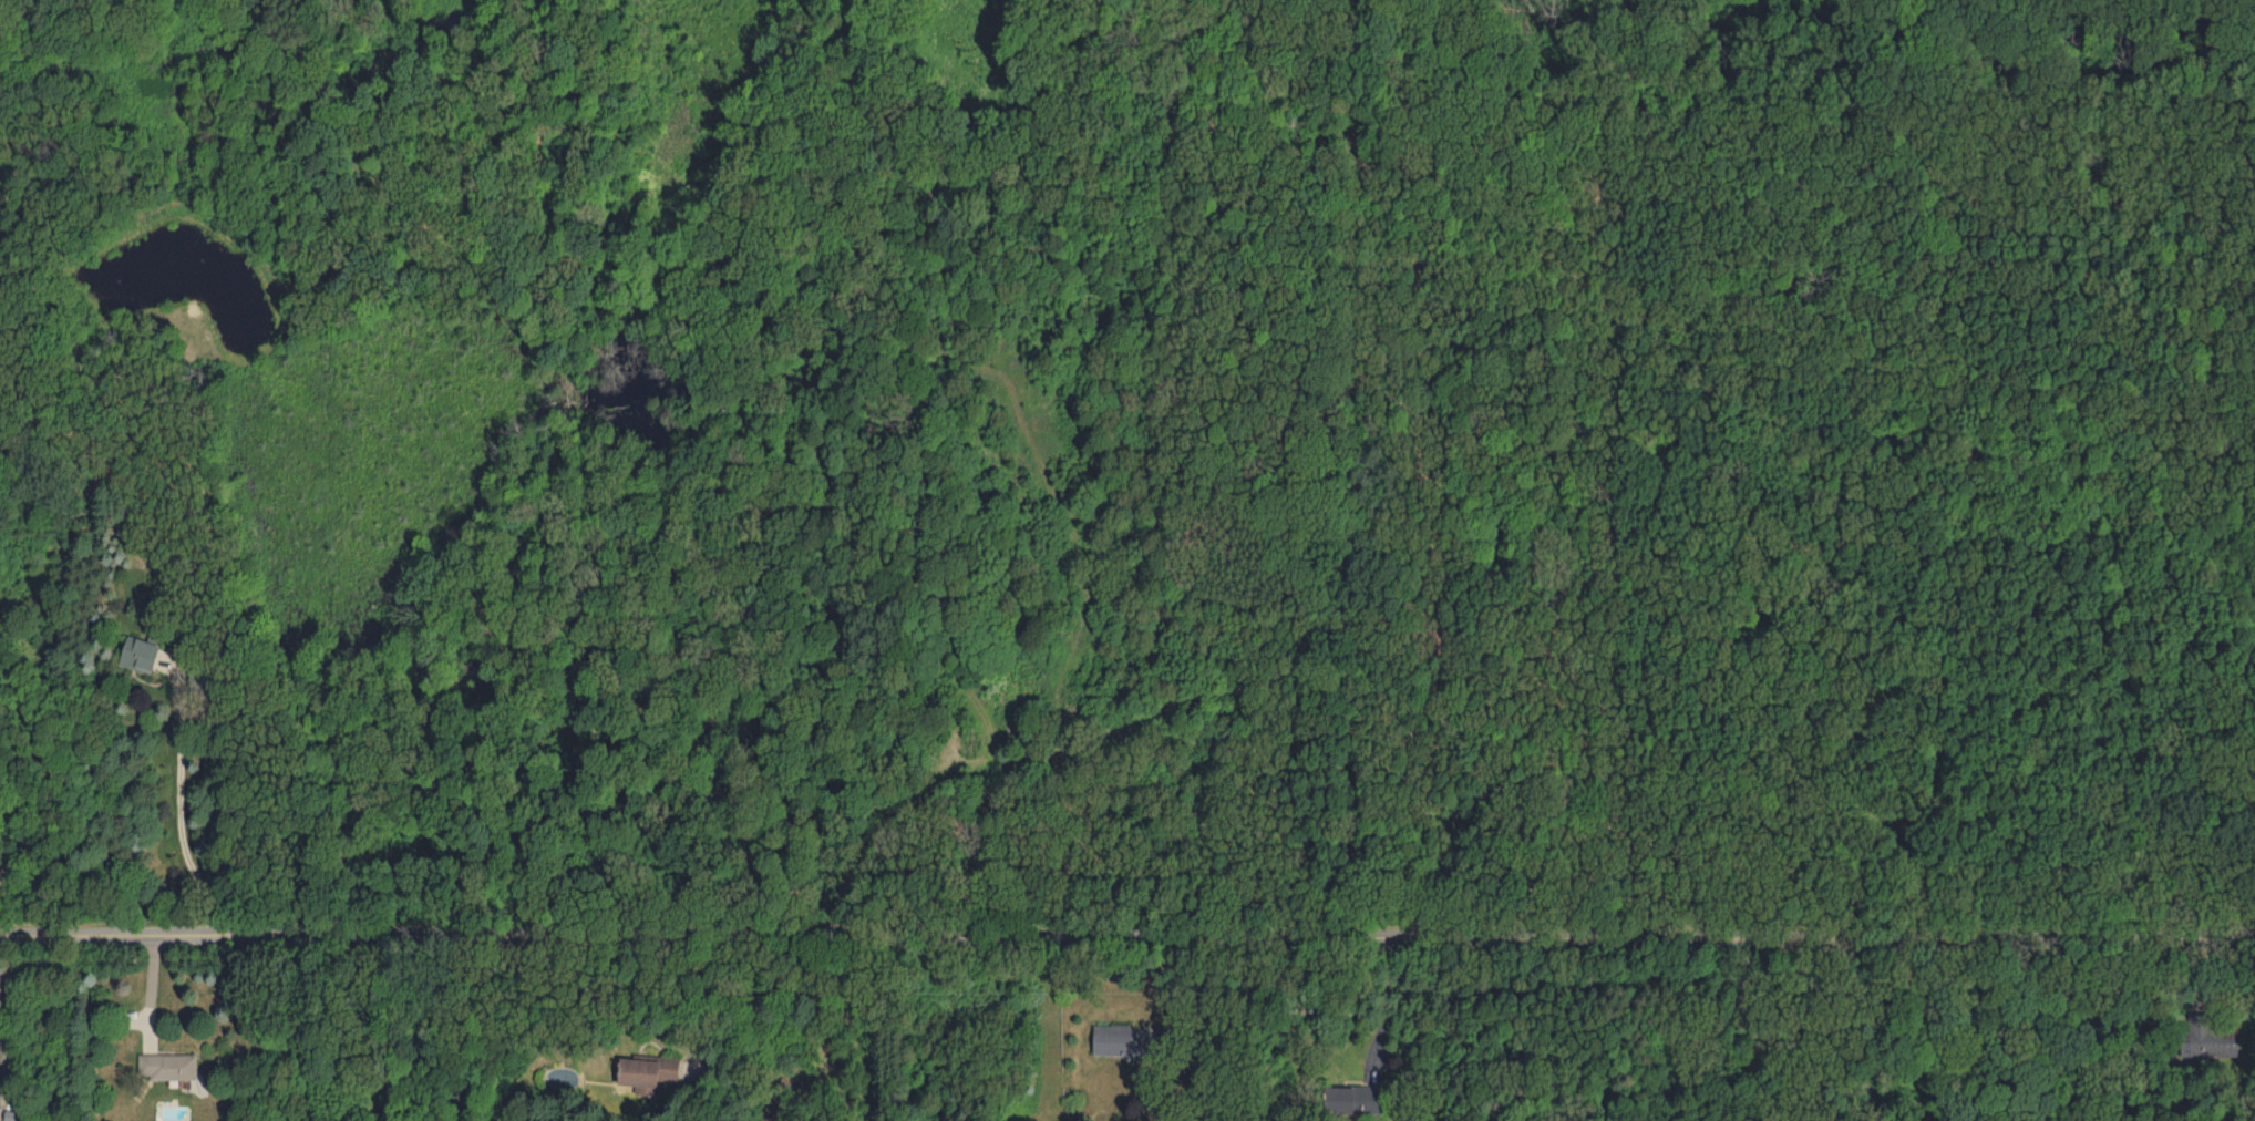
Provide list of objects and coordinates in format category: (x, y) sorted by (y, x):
building: (140, 652)
road: (177, 810)
road: (1127, 936)
road: (145, 994)
road: (1387, 997)
road: (1878, 1027)
building: (2207, 1036)
building: (1121, 1039)
road: (0, 1050)
building: (166, 1068)
building: (647, 1069)
building: (1352, 1098)

